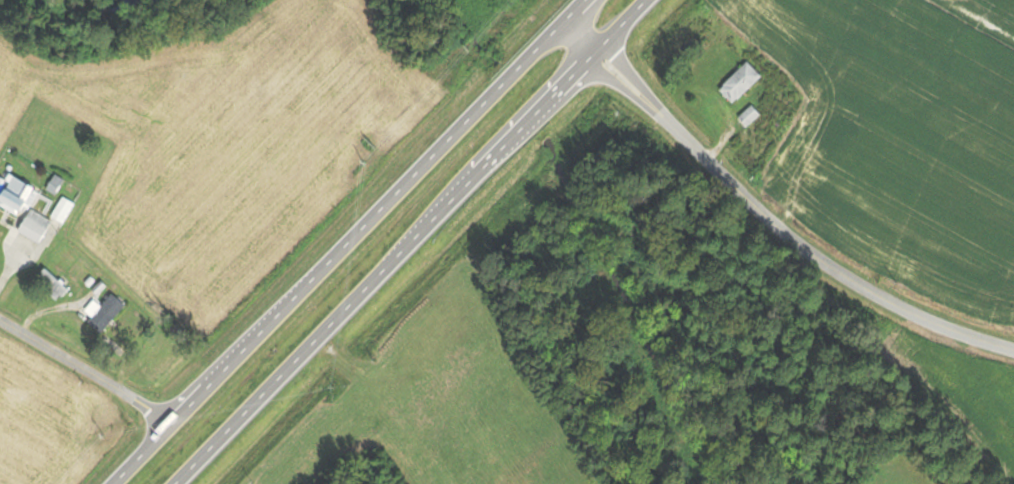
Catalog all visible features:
building: (743, 83)
building: (751, 116)
building: (26, 206)
building: (63, 209)
road: (769, 214)
road: (418, 242)
road: (350, 243)
building: (54, 284)
building: (106, 312)
road: (86, 373)
building: (386, 473)

